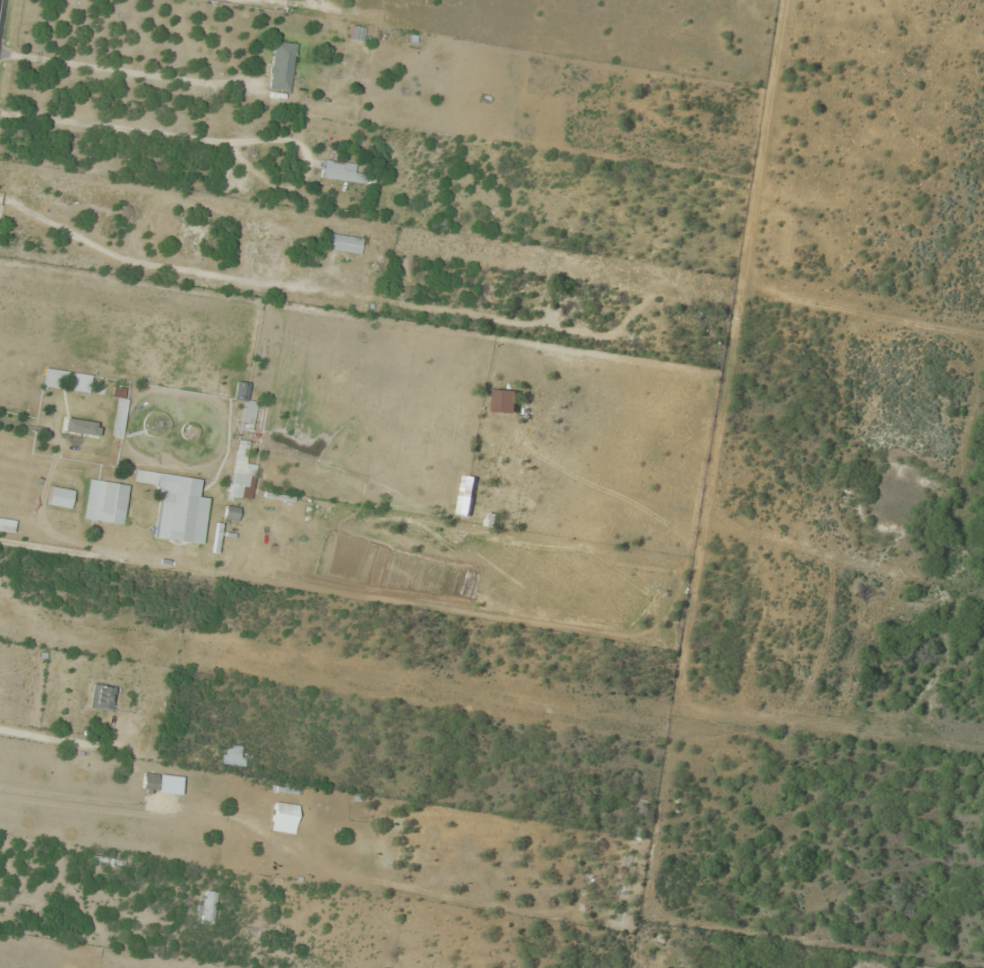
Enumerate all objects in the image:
building: (356, 34)
building: (281, 66)
building: (339, 172)
building: (256, 253)
building: (504, 402)
building: (119, 417)
building: (156, 423)
building: (77, 426)
building: (237, 485)
building: (108, 502)
building: (180, 518)
building: (101, 698)
building: (232, 755)
building: (149, 782)
building: (283, 818)
building: (209, 908)

